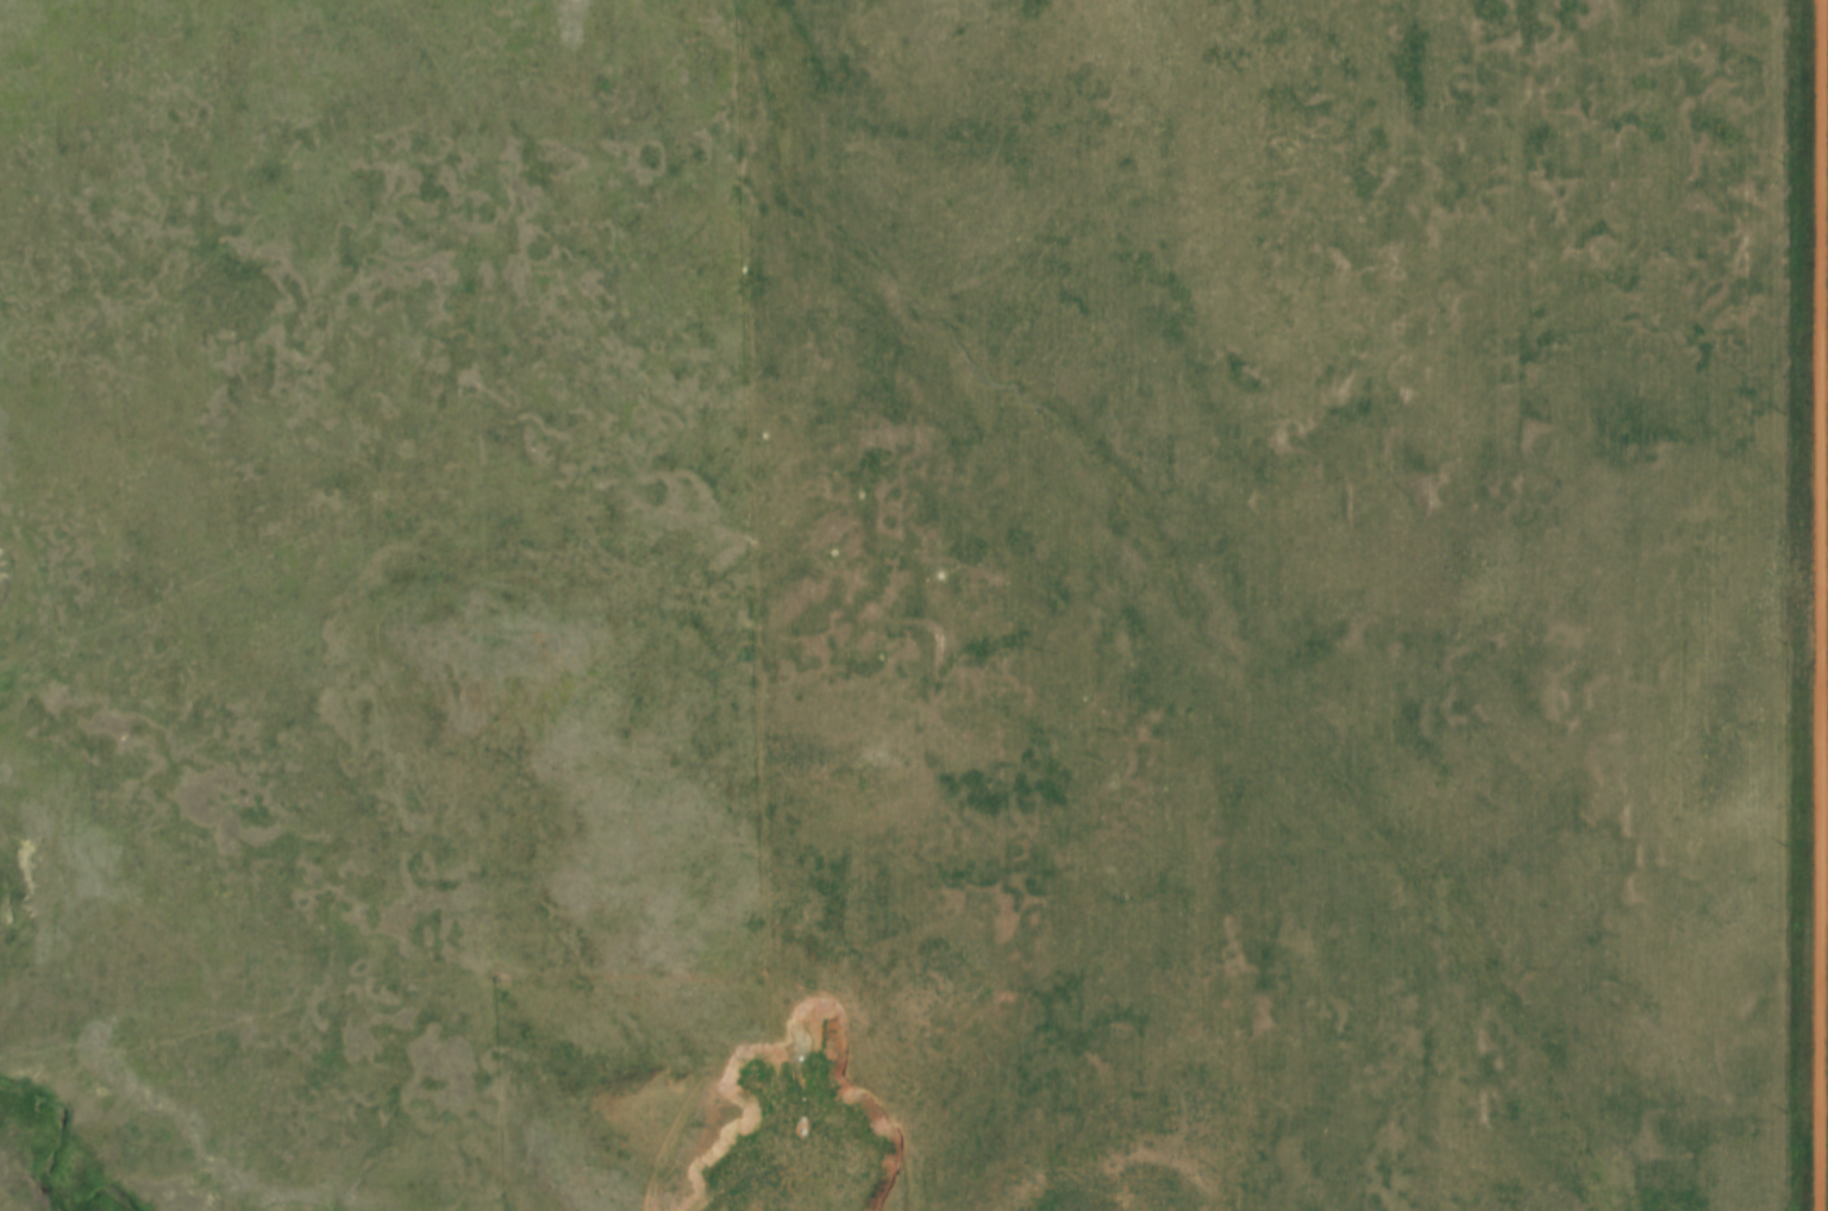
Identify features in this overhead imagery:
road: (1824, 604)

